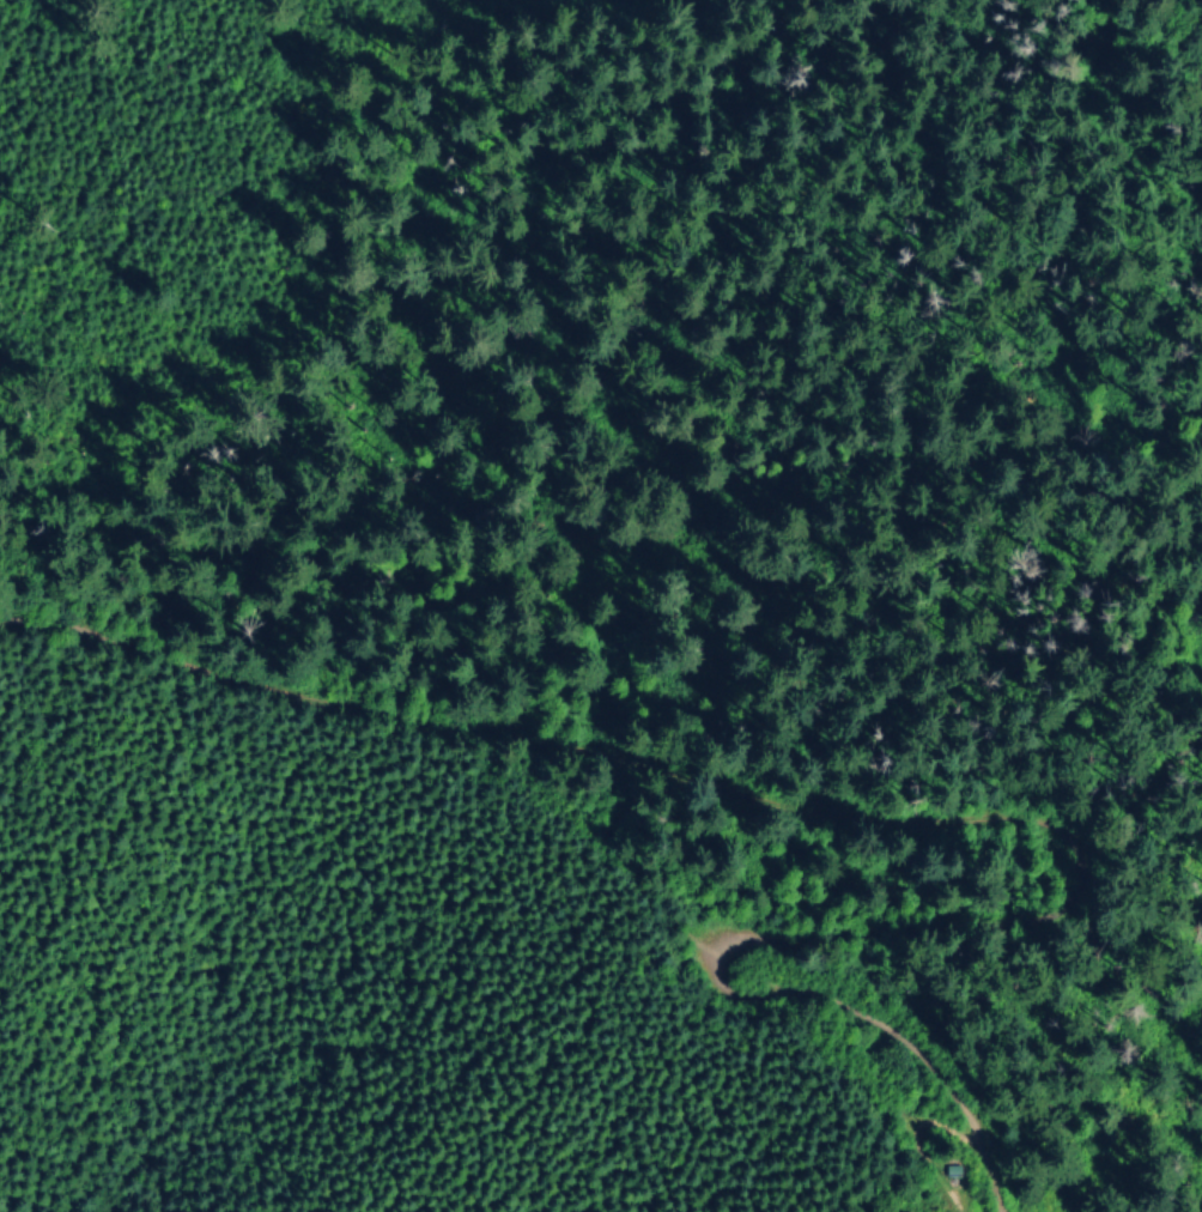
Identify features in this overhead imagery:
road: (937, 828)

